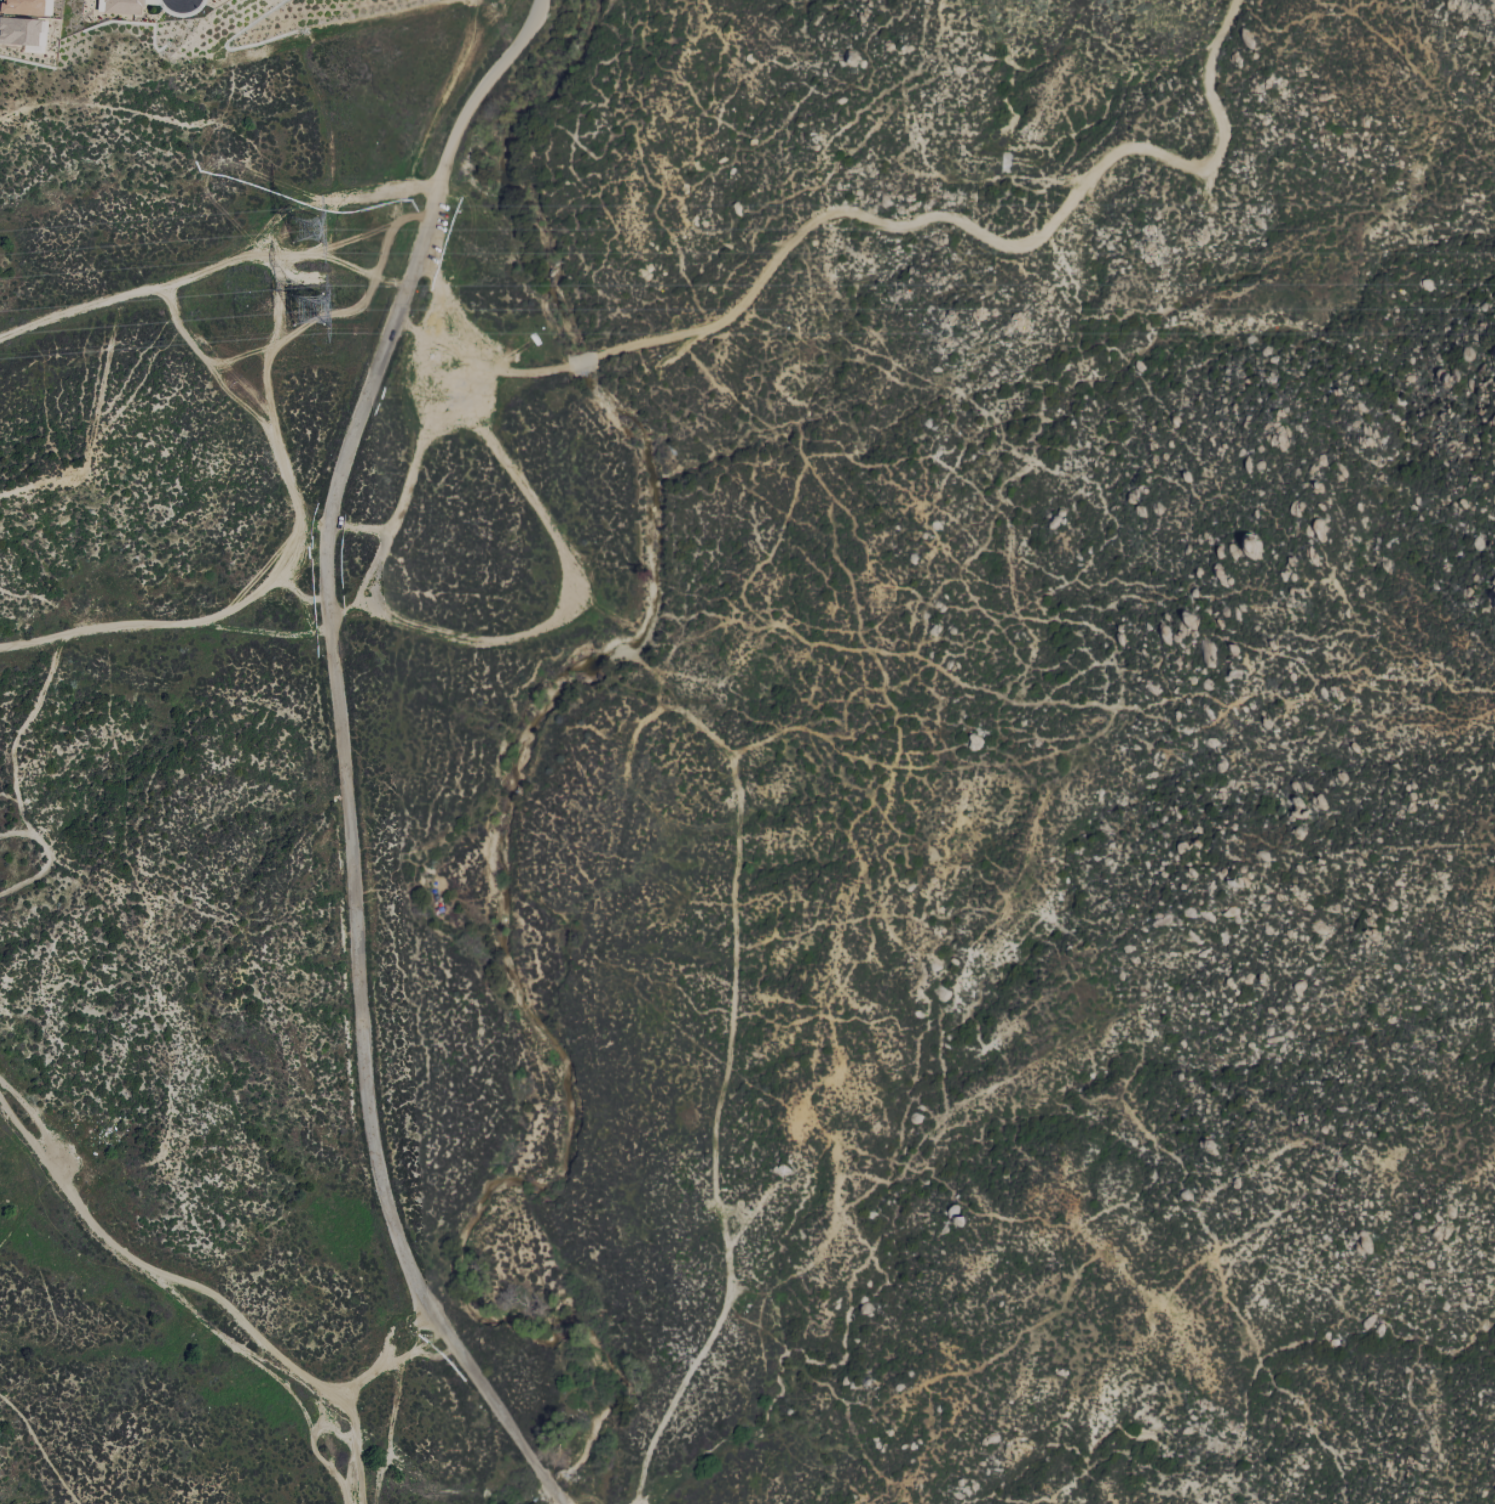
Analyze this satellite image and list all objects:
building: (21, 7)
building: (46, 7)
building: (121, 7)
building: (18, 31)
road: (943, 216)
power tower: (309, 227)
power tower: (300, 308)
road: (344, 754)
road: (348, 1388)

